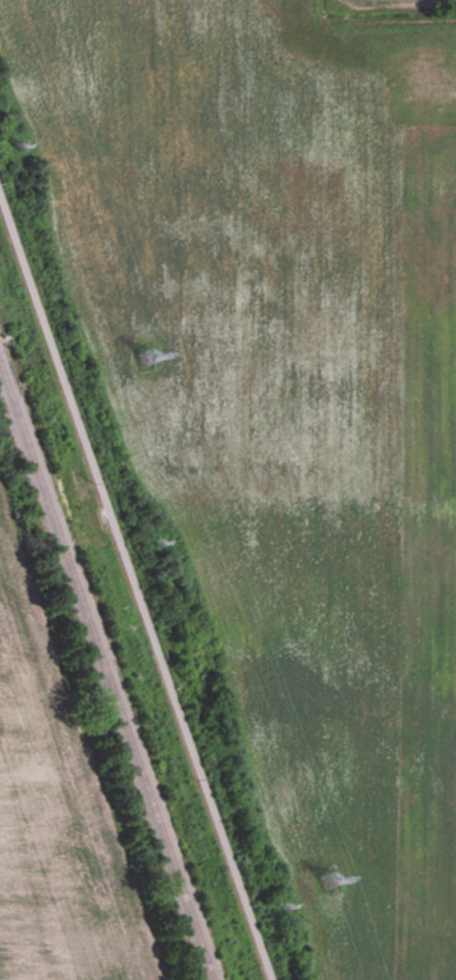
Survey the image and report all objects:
power tower: (148, 353)
road: (134, 592)
railway: (106, 673)
power tower: (330, 880)

